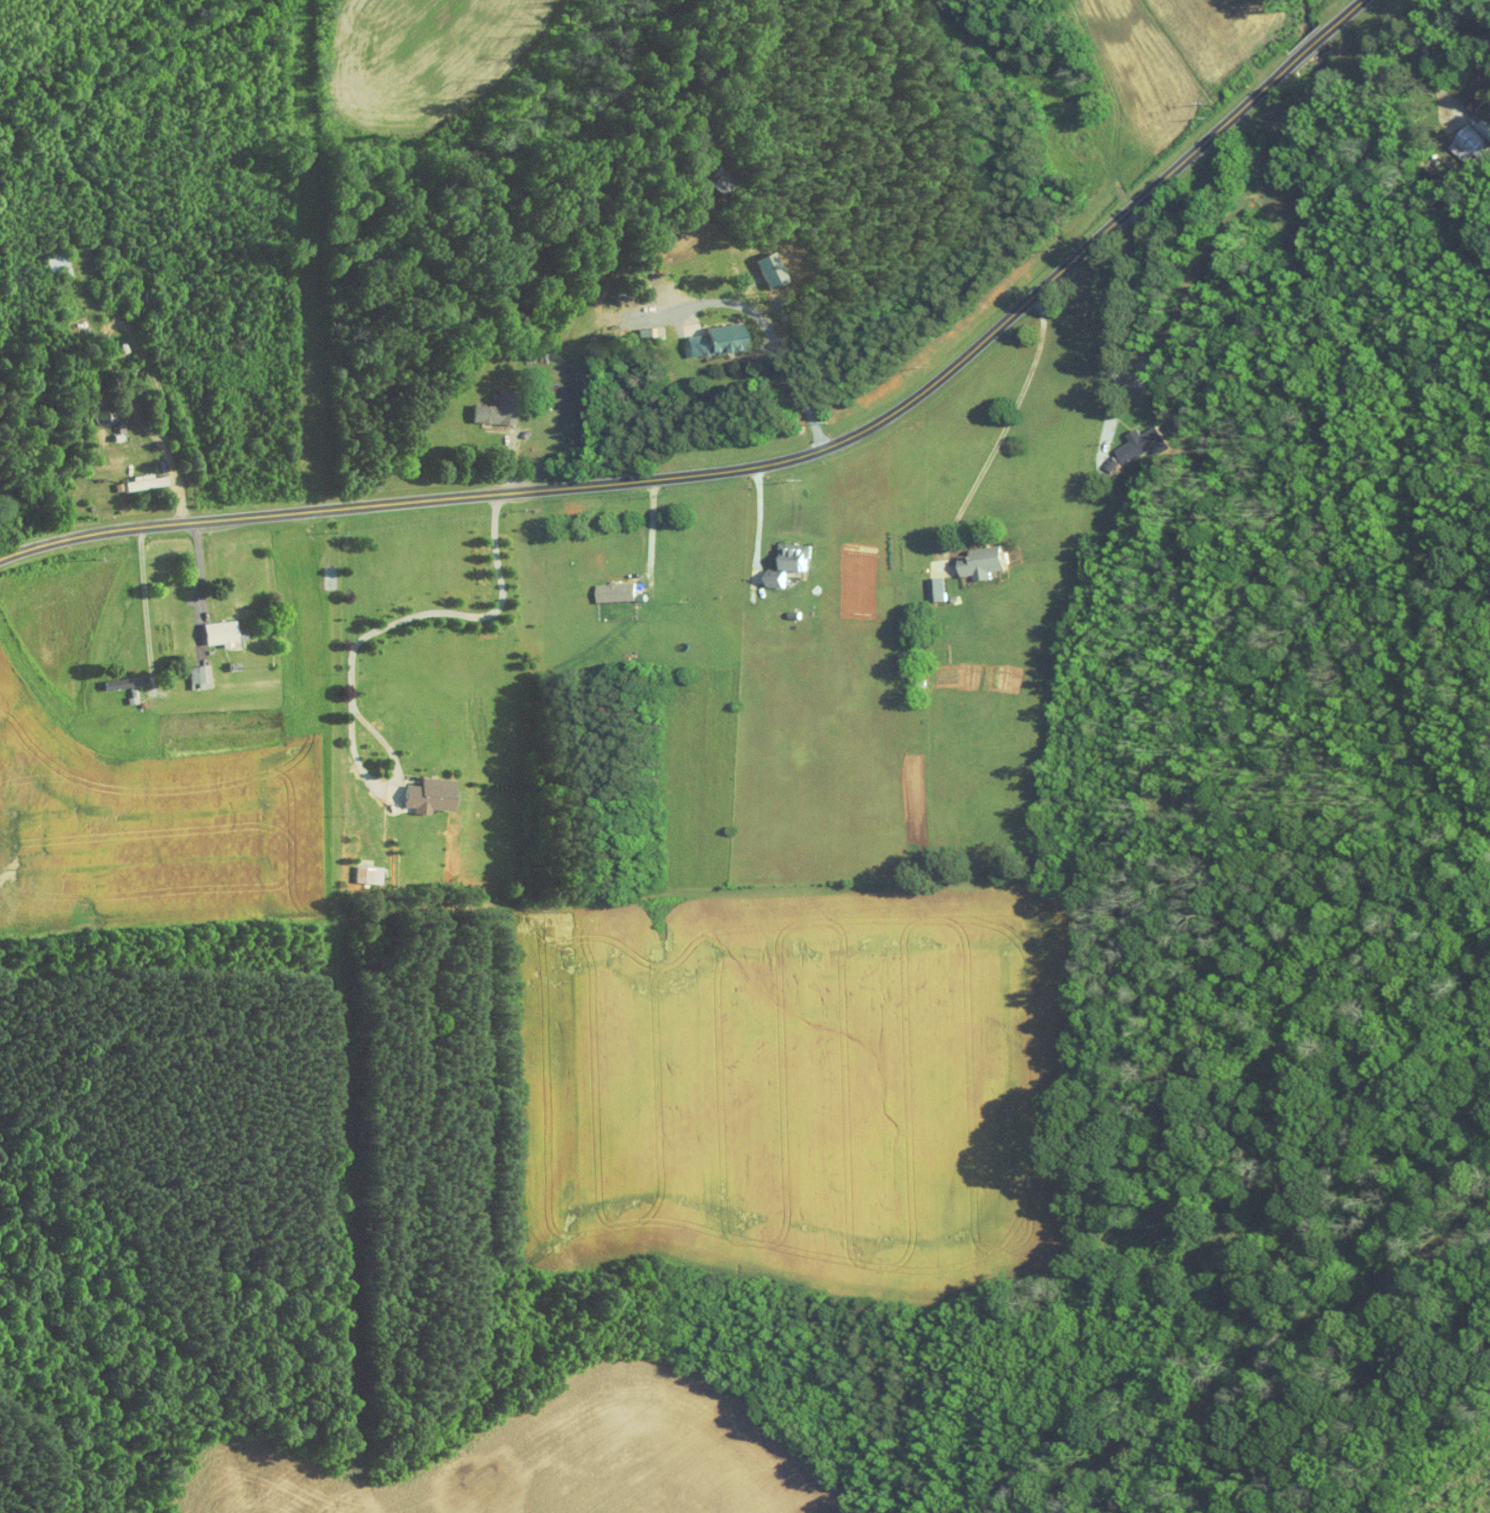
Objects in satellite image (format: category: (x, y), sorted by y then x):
road: (1428, 63)
building: (1475, 90)
building: (1469, 140)
building: (764, 269)
road: (764, 320)
road: (1123, 320)
building: (709, 341)
building: (492, 410)
road: (1004, 430)
building: (1135, 444)
road: (759, 463)
building: (140, 482)
road: (755, 520)
road: (650, 530)
building: (978, 562)
building: (784, 563)
road: (195, 568)
building: (933, 589)
building: (611, 592)
road: (143, 593)
road: (402, 622)
building: (227, 632)
building: (202, 675)
building: (424, 794)
building: (365, 874)

